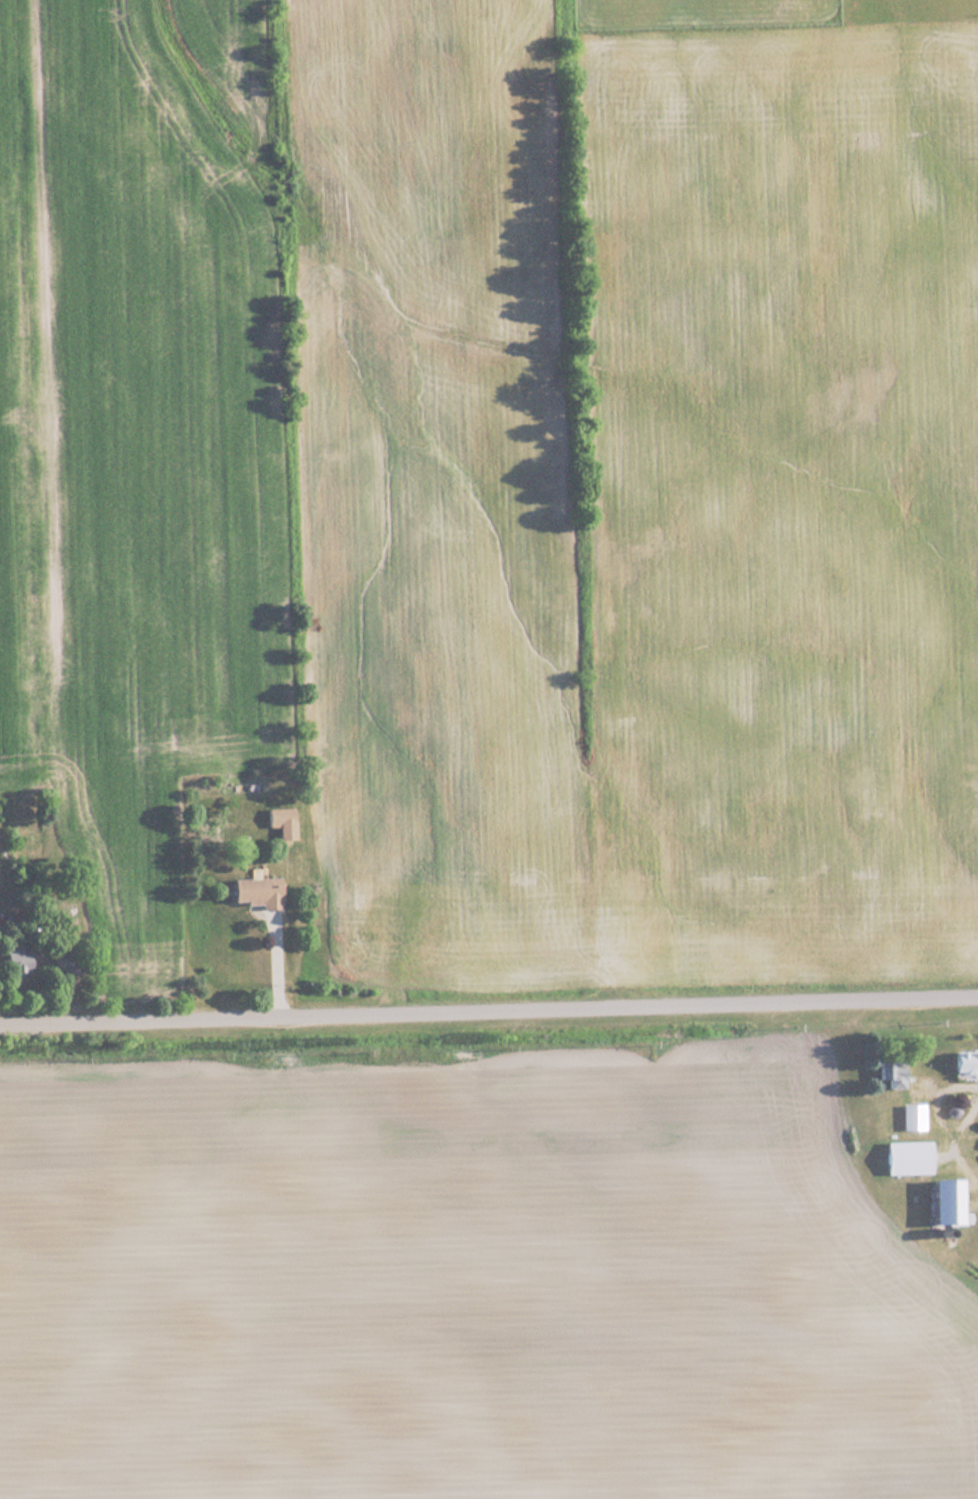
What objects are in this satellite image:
building: (281, 821)
building: (253, 891)
building: (14, 960)
road: (276, 961)
road: (488, 1013)
building: (961, 1060)
building: (888, 1072)
building: (908, 1116)
building: (903, 1157)
building: (938, 1200)

